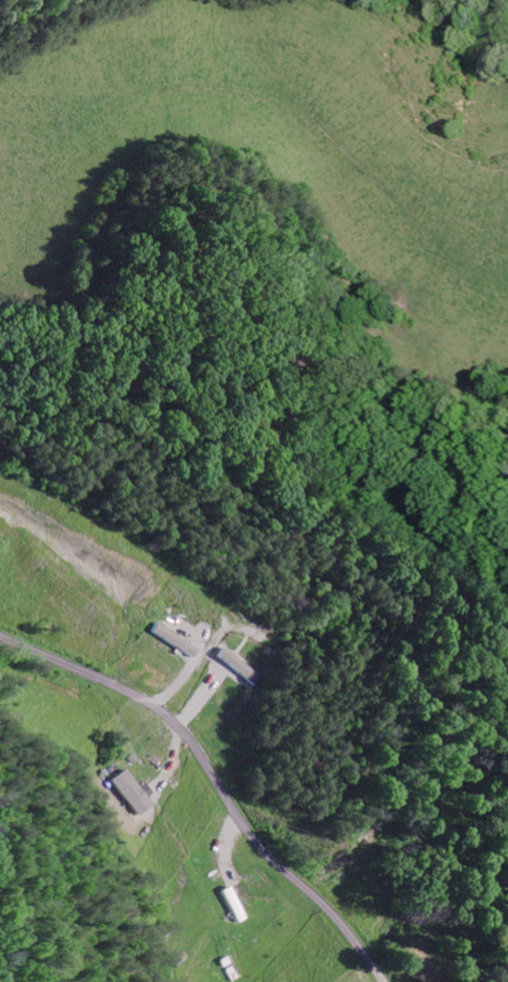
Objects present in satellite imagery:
building: (169, 640)
building: (237, 667)
road: (214, 778)
building: (131, 792)

